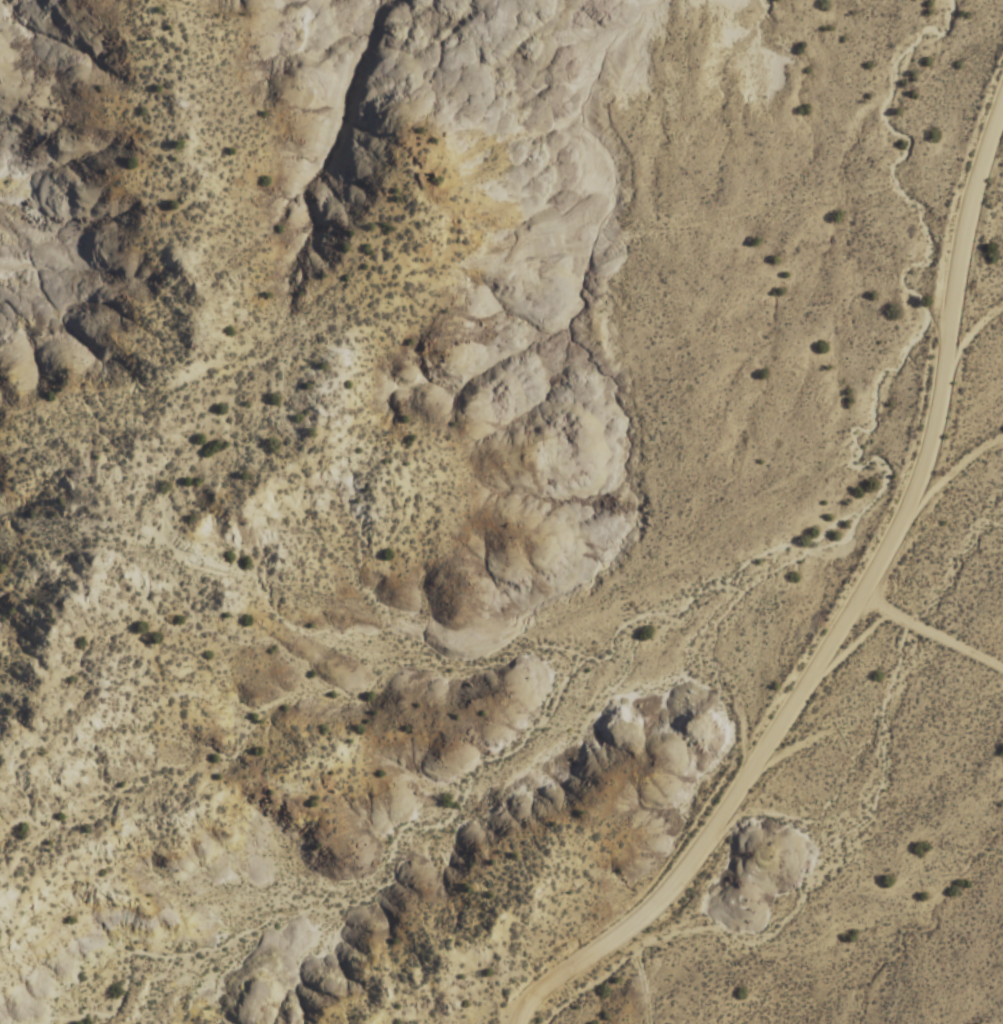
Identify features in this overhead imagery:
road: (852, 603)

